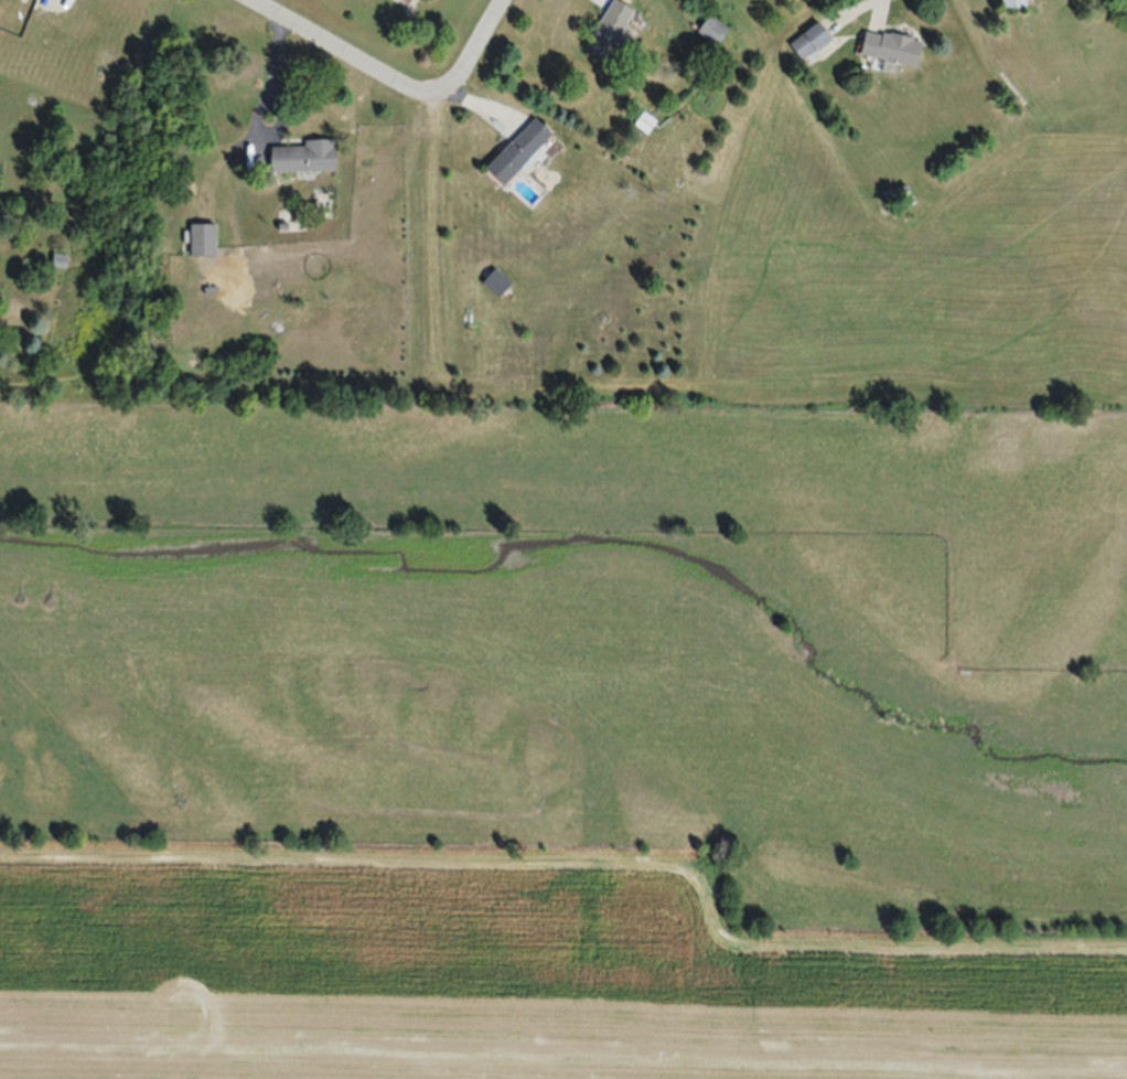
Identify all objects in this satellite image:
building: (409, 0)
building: (1017, 3)
building: (613, 32)
building: (811, 40)
building: (892, 46)
road: (473, 50)
road: (332, 55)
building: (519, 150)
building: (304, 157)
building: (203, 238)
building: (495, 281)
crop: (607, 684)

